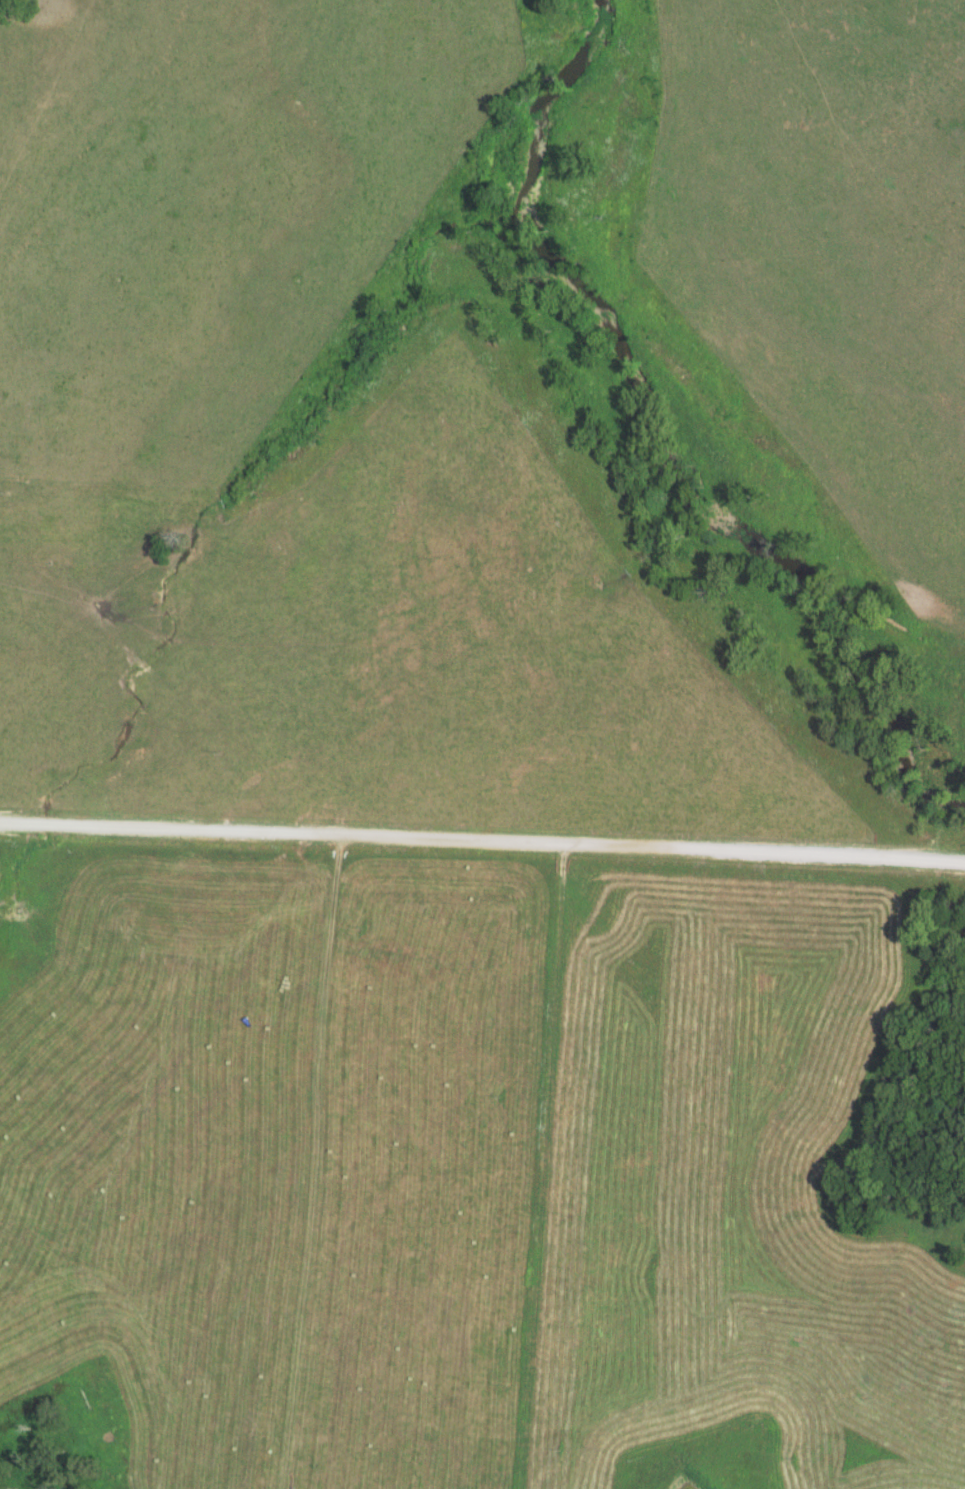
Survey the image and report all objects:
road: (482, 837)

